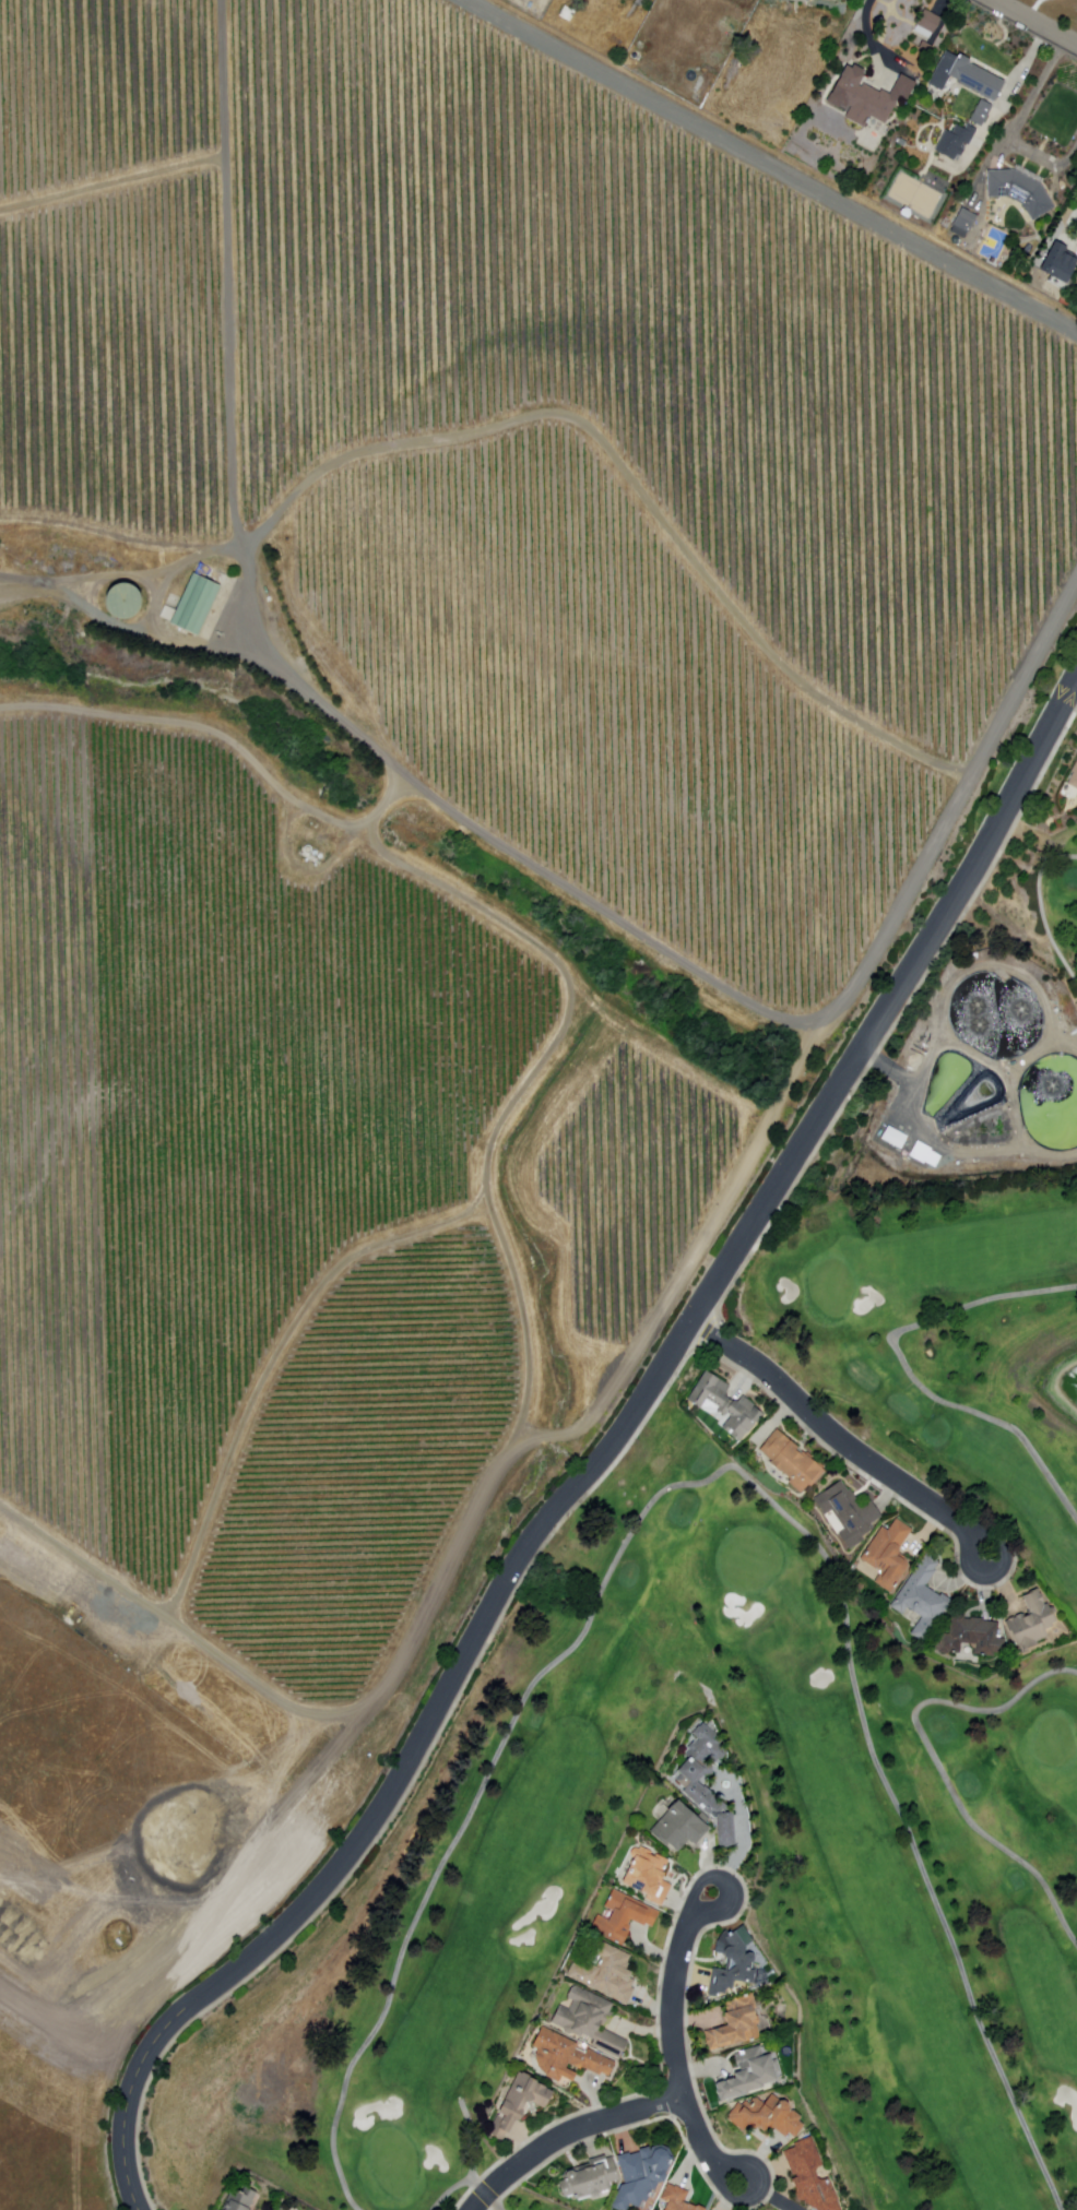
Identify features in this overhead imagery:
building: (567, 14)
road: (1034, 22)
building: (927, 24)
building: (925, 47)
building: (963, 75)
building: (866, 96)
building: (980, 114)
storage tank: (902, 142)
building: (954, 142)
road: (770, 165)
road: (115, 185)
building: (1019, 195)
building: (963, 224)
building: (946, 225)
building: (1060, 260)
road: (230, 274)
building: (121, 601)
storage tank: (130, 601)
building: (200, 605)
road: (141, 626)
road: (261, 627)
road: (1029, 675)
road: (204, 730)
building: (1074, 779)
road: (1043, 913)
wastewater plant: (997, 1015)
wastewater plant: (947, 1079)
wastewater plant: (979, 1098)
wastewater plant: (1052, 1103)
wastewater plant: (989, 1131)
building: (893, 1138)
road: (481, 1198)
park: (832, 1287)
road: (909, 1373)
building: (725, 1405)
road: (839, 1441)
road: (597, 1458)
building: (792, 1462)
road: (707, 1482)
road: (471, 1516)
building: (852, 1516)
building: (888, 1556)
park: (751, 1561)
building: (923, 1599)
building: (1031, 1624)
building: (972, 1637)
park: (783, 1711)
park: (1055, 1743)
road: (937, 1762)
building: (693, 1786)
building: (679, 1829)
building: (648, 1877)
road: (718, 1882)
building: (623, 1918)
building: (732, 1965)
building: (605, 1974)
building: (591, 2021)
building: (736, 2025)
road: (672, 2040)
building: (567, 2058)
building: (748, 2076)
building: (517, 2106)
building: (767, 2117)
road: (565, 2132)
park: (394, 2163)
building: (641, 2176)
building: (809, 2178)
building: (591, 2181)
road: (750, 2185)
road: (451, 2191)
road: (484, 2194)
building: (676, 2199)
building: (238, 2200)
building: (280, 2208)
road: (498, 2208)

